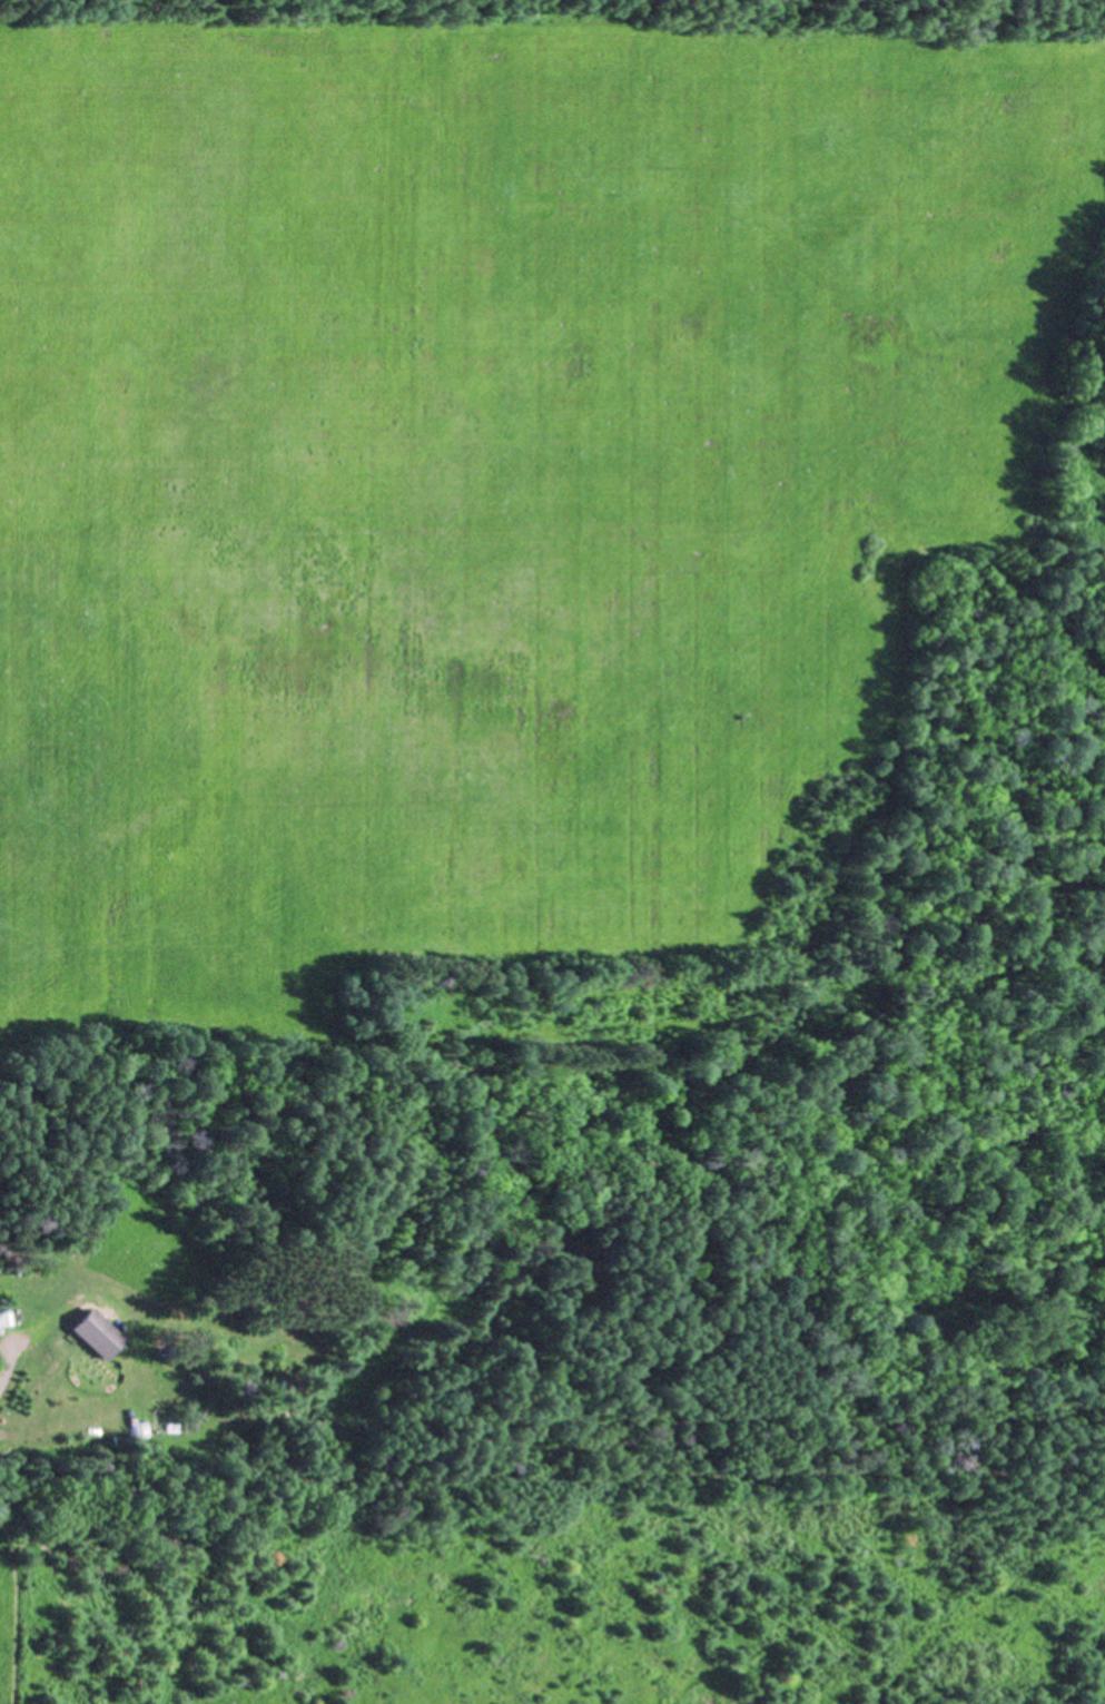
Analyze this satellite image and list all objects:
crop: (484, 476)
building: (3, 1317)
building: (93, 1332)
crop: (11, 1632)
crop: (502, 1636)

